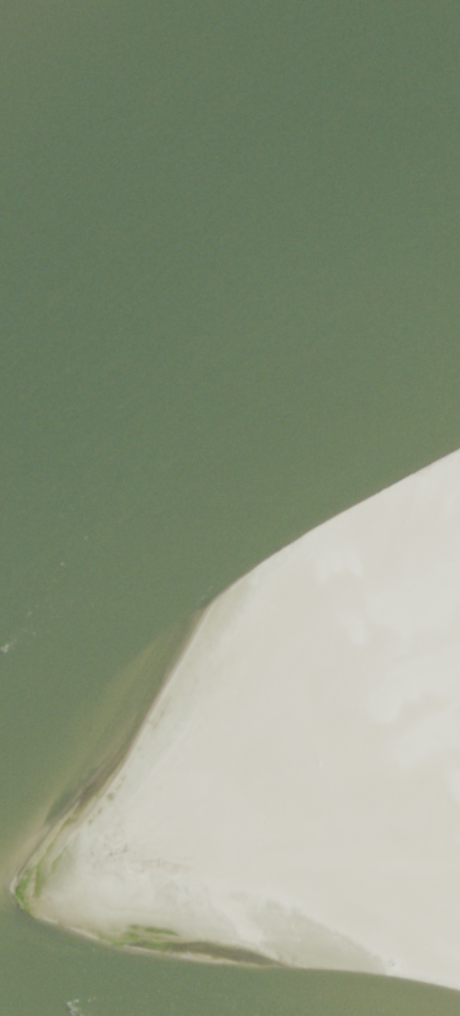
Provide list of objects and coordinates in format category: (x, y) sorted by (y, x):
river: (142, 943)

